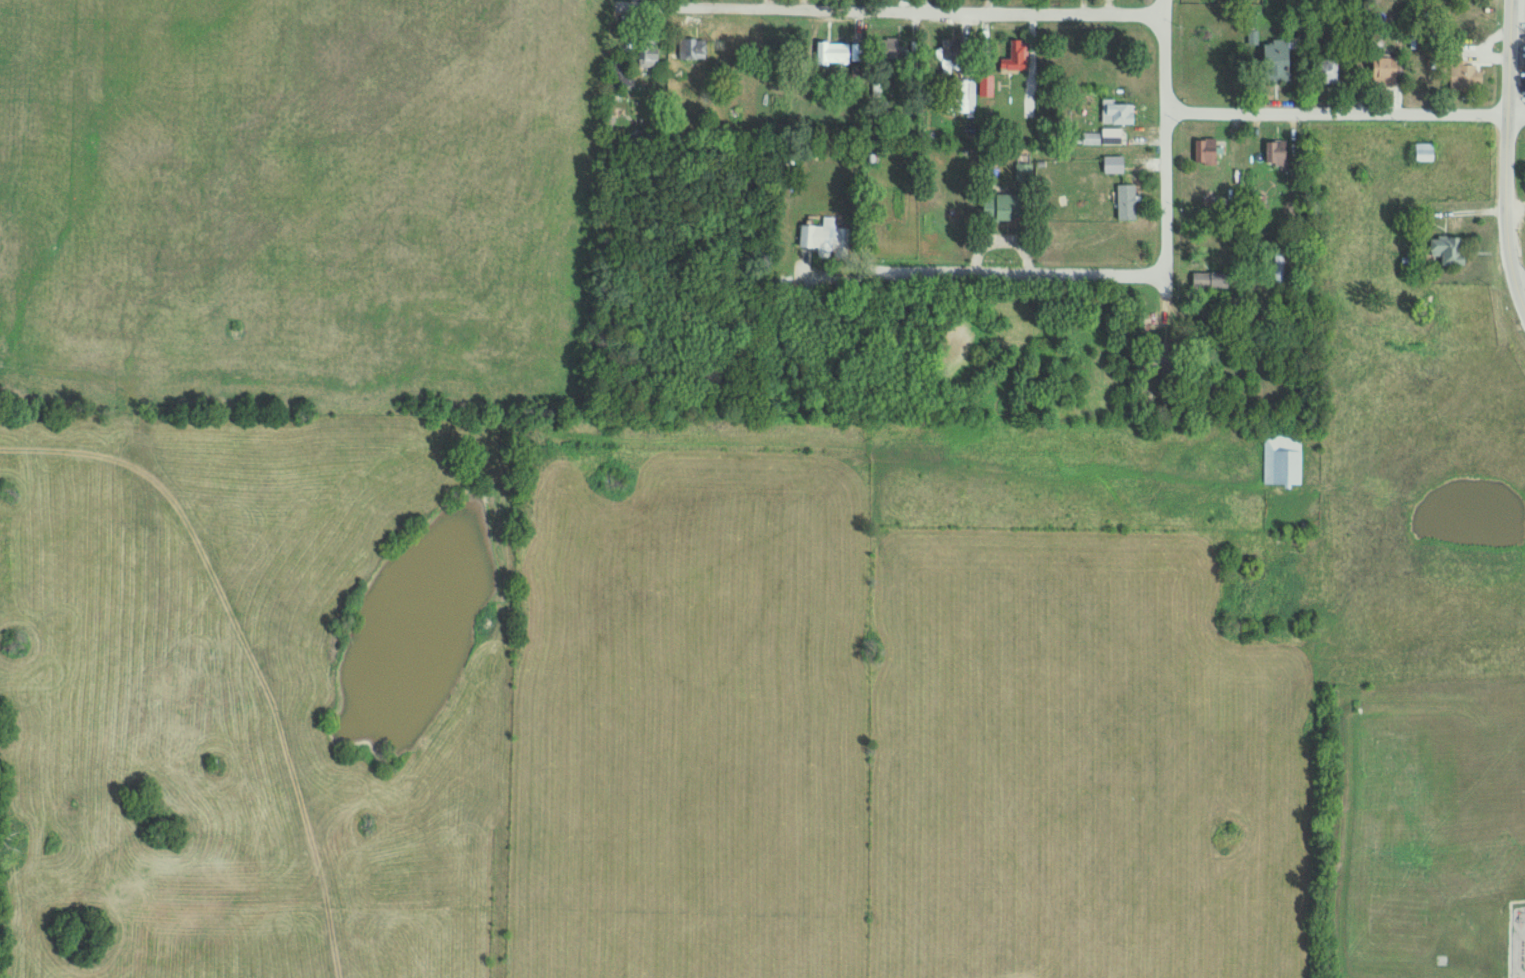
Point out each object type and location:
road: (916, 7)
building: (891, 48)
building: (692, 49)
building: (834, 53)
building: (650, 56)
building: (950, 57)
building: (1017, 58)
building: (1279, 60)
building: (1327, 70)
building: (1387, 70)
building: (619, 72)
building: (1466, 77)
building: (987, 85)
road: (1345, 111)
building: (1122, 114)
building: (1113, 137)
building: (1090, 139)
building: (1206, 151)
building: (1427, 152)
building: (1277, 154)
road: (1505, 157)
building: (1114, 165)
building: (1024, 173)
road: (1162, 200)
building: (1128, 203)
building: (1004, 207)
building: (825, 238)
building: (1450, 250)
road: (1023, 265)
building: (1279, 267)
building: (1211, 281)
building: (1163, 357)
road: (1250, 365)
building: (1283, 459)

